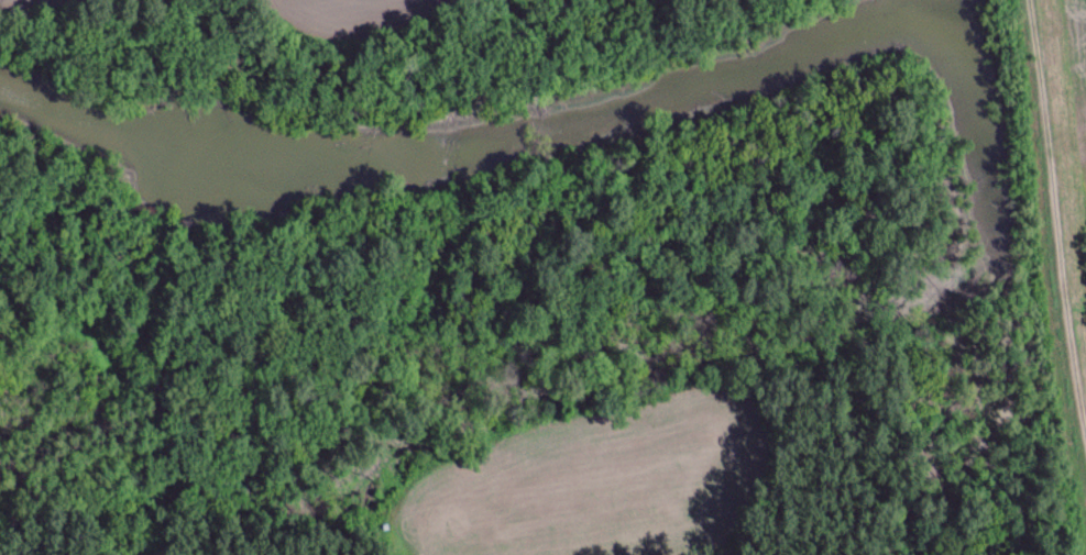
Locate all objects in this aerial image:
road: (1052, 223)

